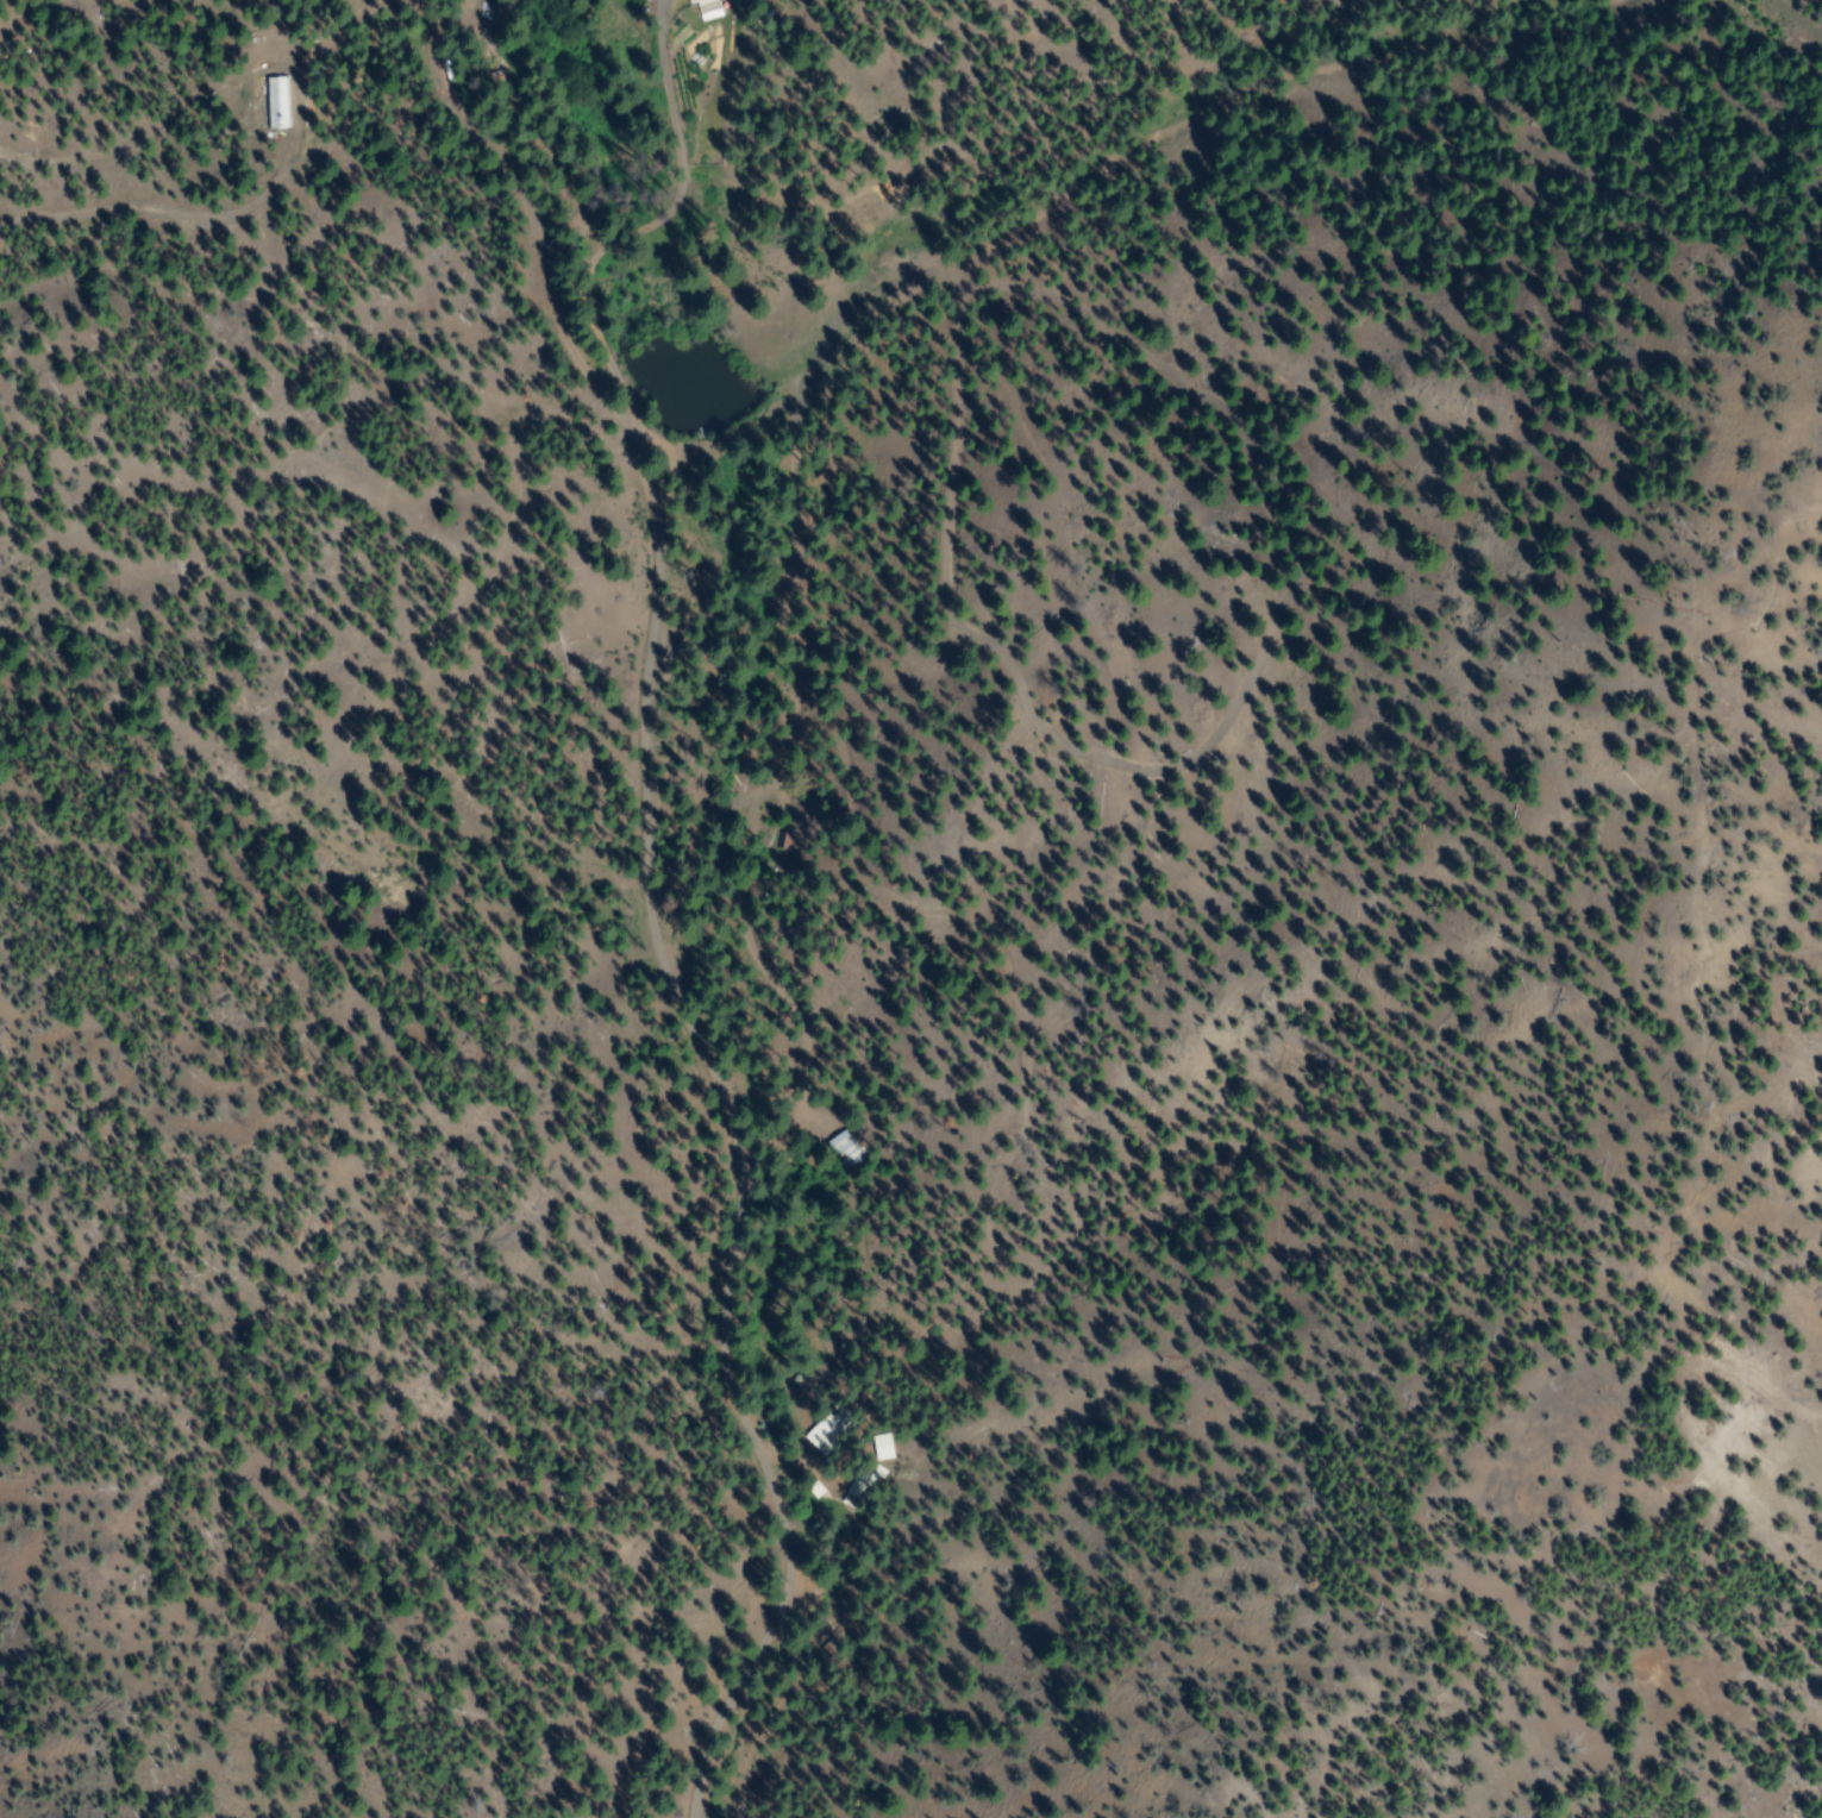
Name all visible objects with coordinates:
building: (707, 10)
road: (691, 898)
building: (845, 1151)
building: (828, 1429)
building: (858, 1491)

